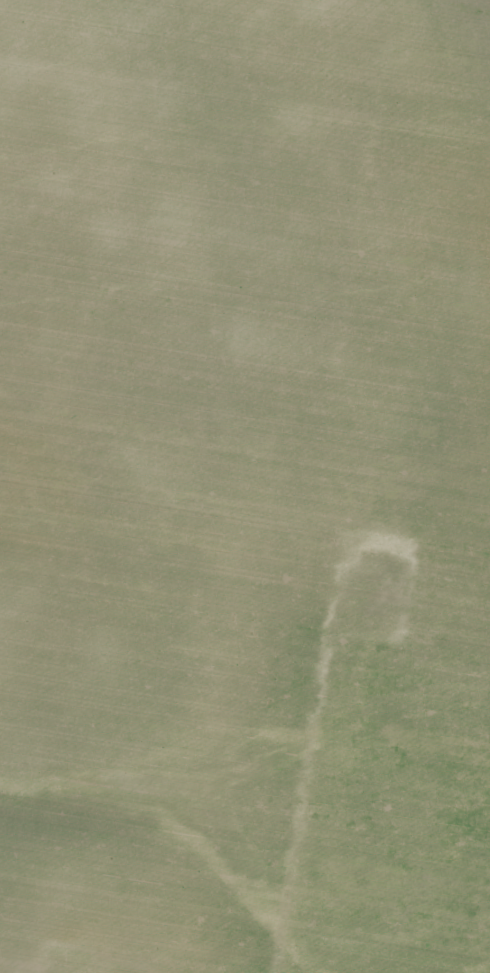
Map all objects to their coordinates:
road: (245, 464)

